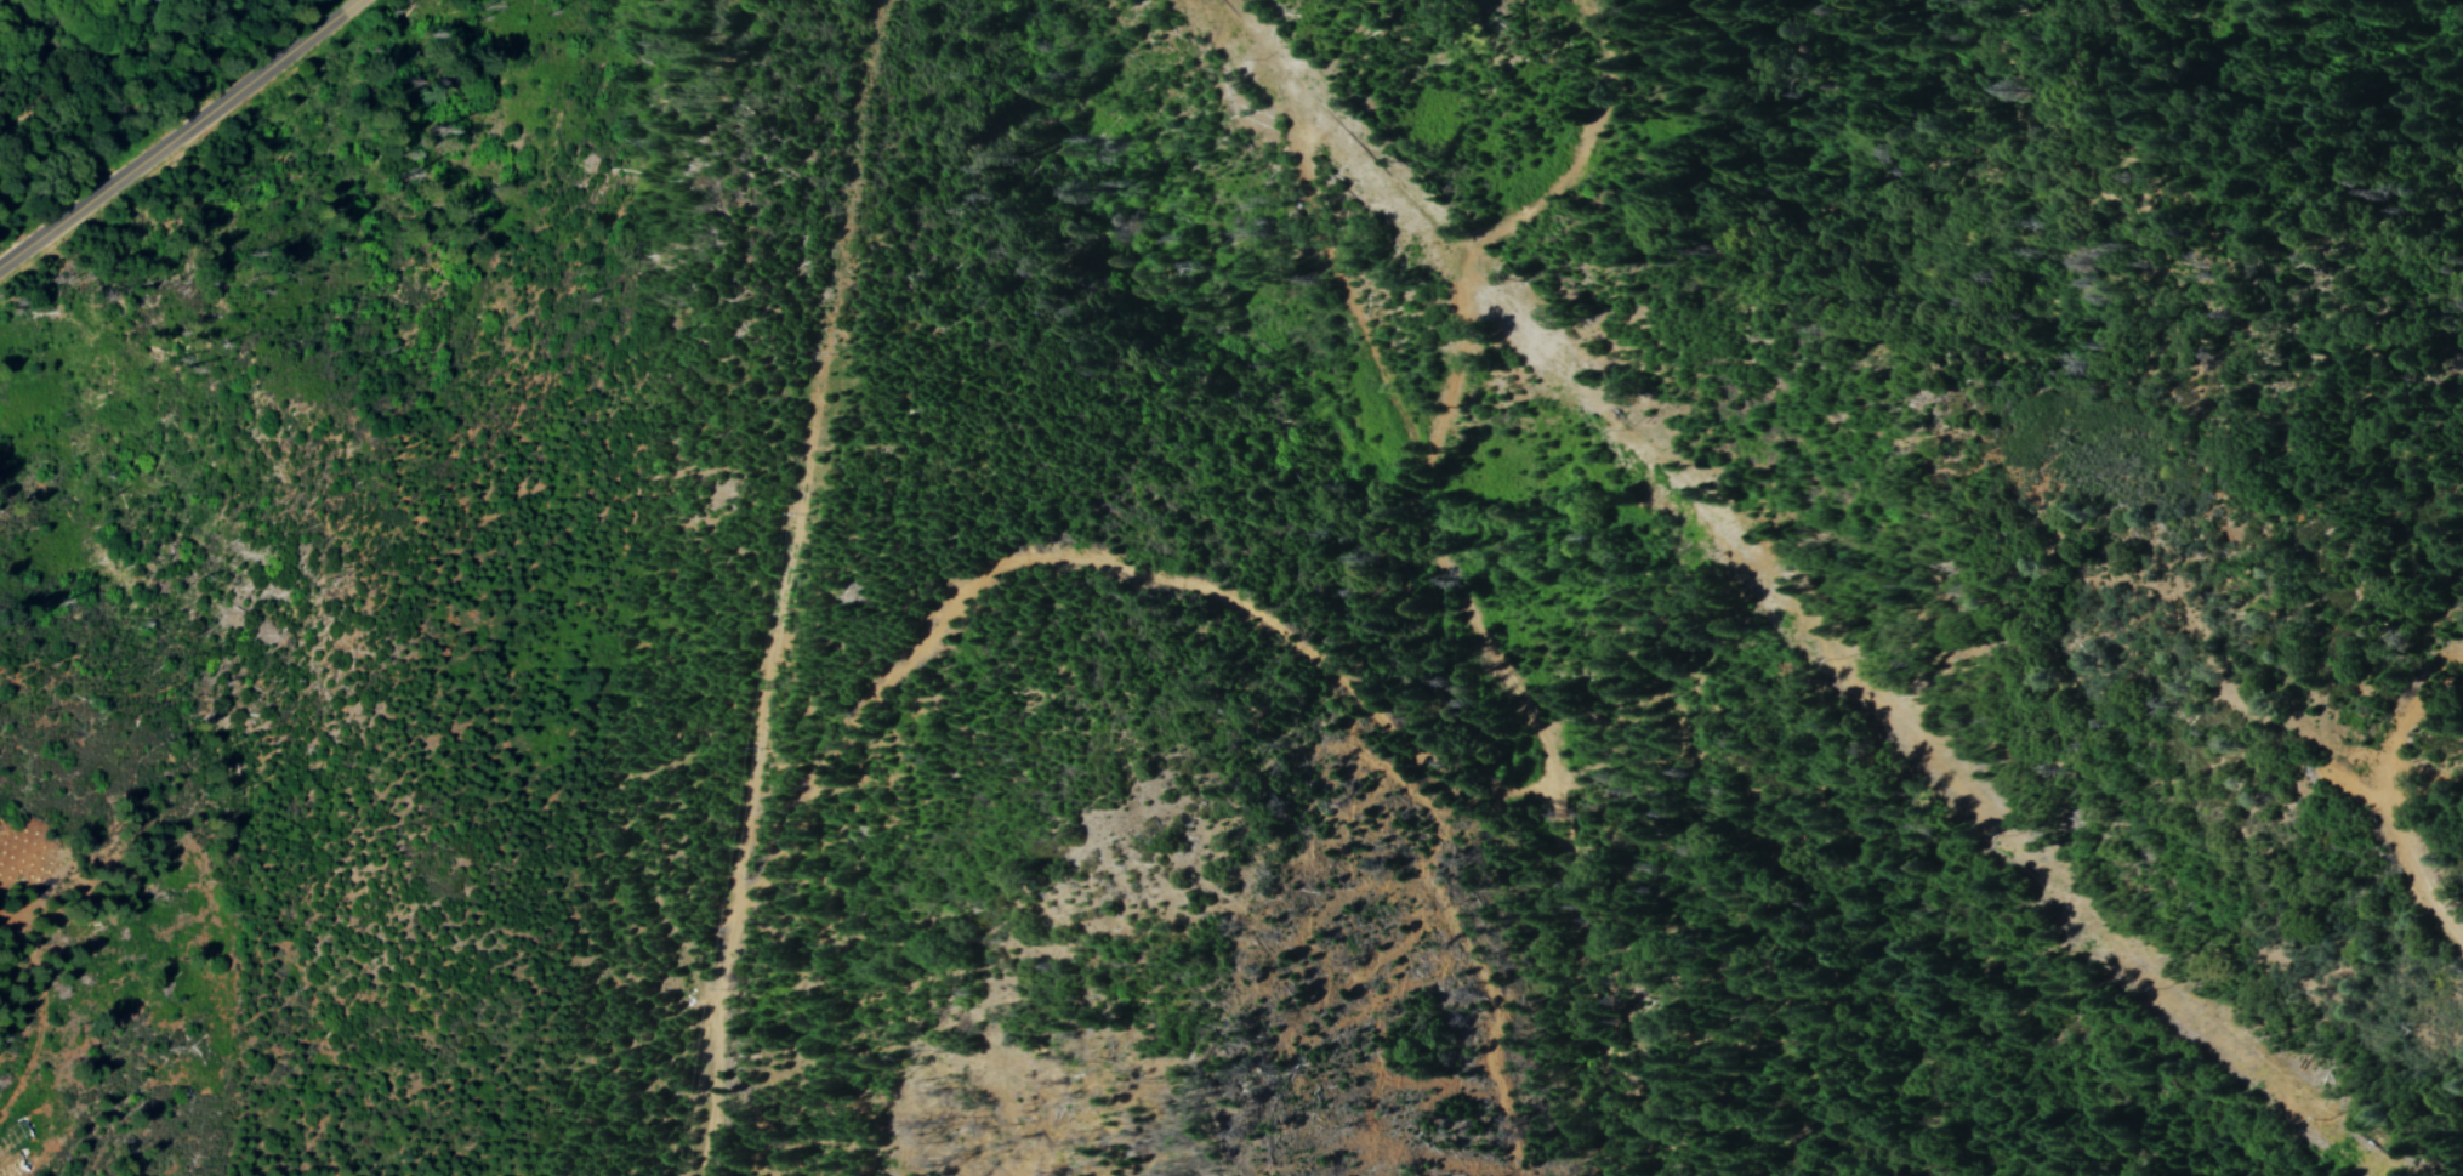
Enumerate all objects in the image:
river: (91, 62)
road: (184, 138)

